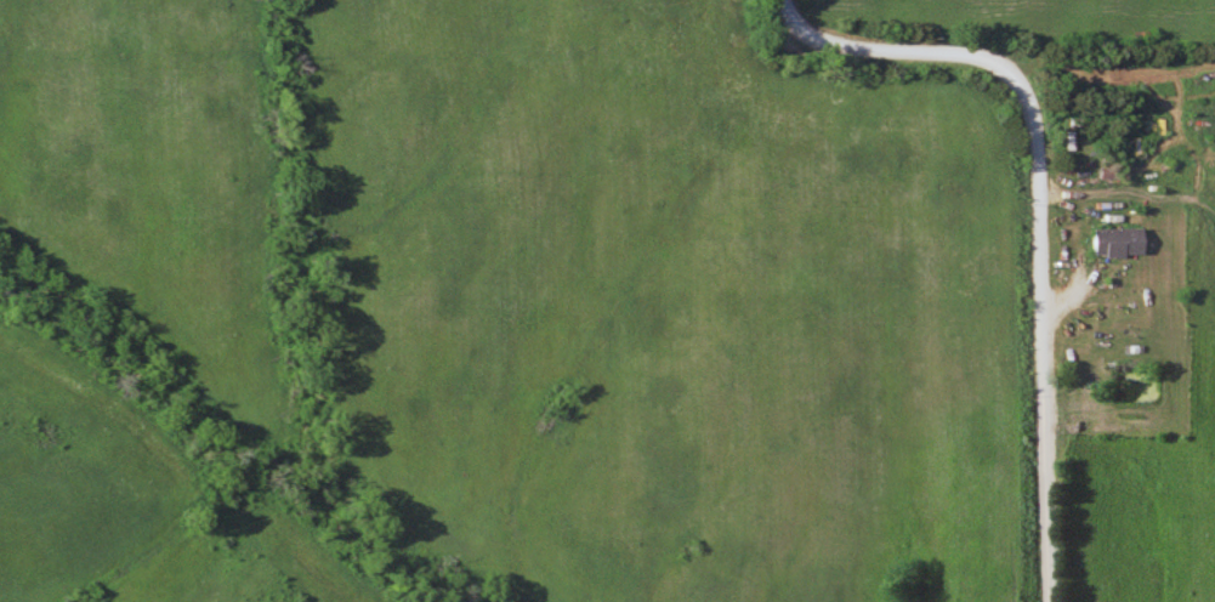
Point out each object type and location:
road: (1035, 208)
building: (1119, 242)

